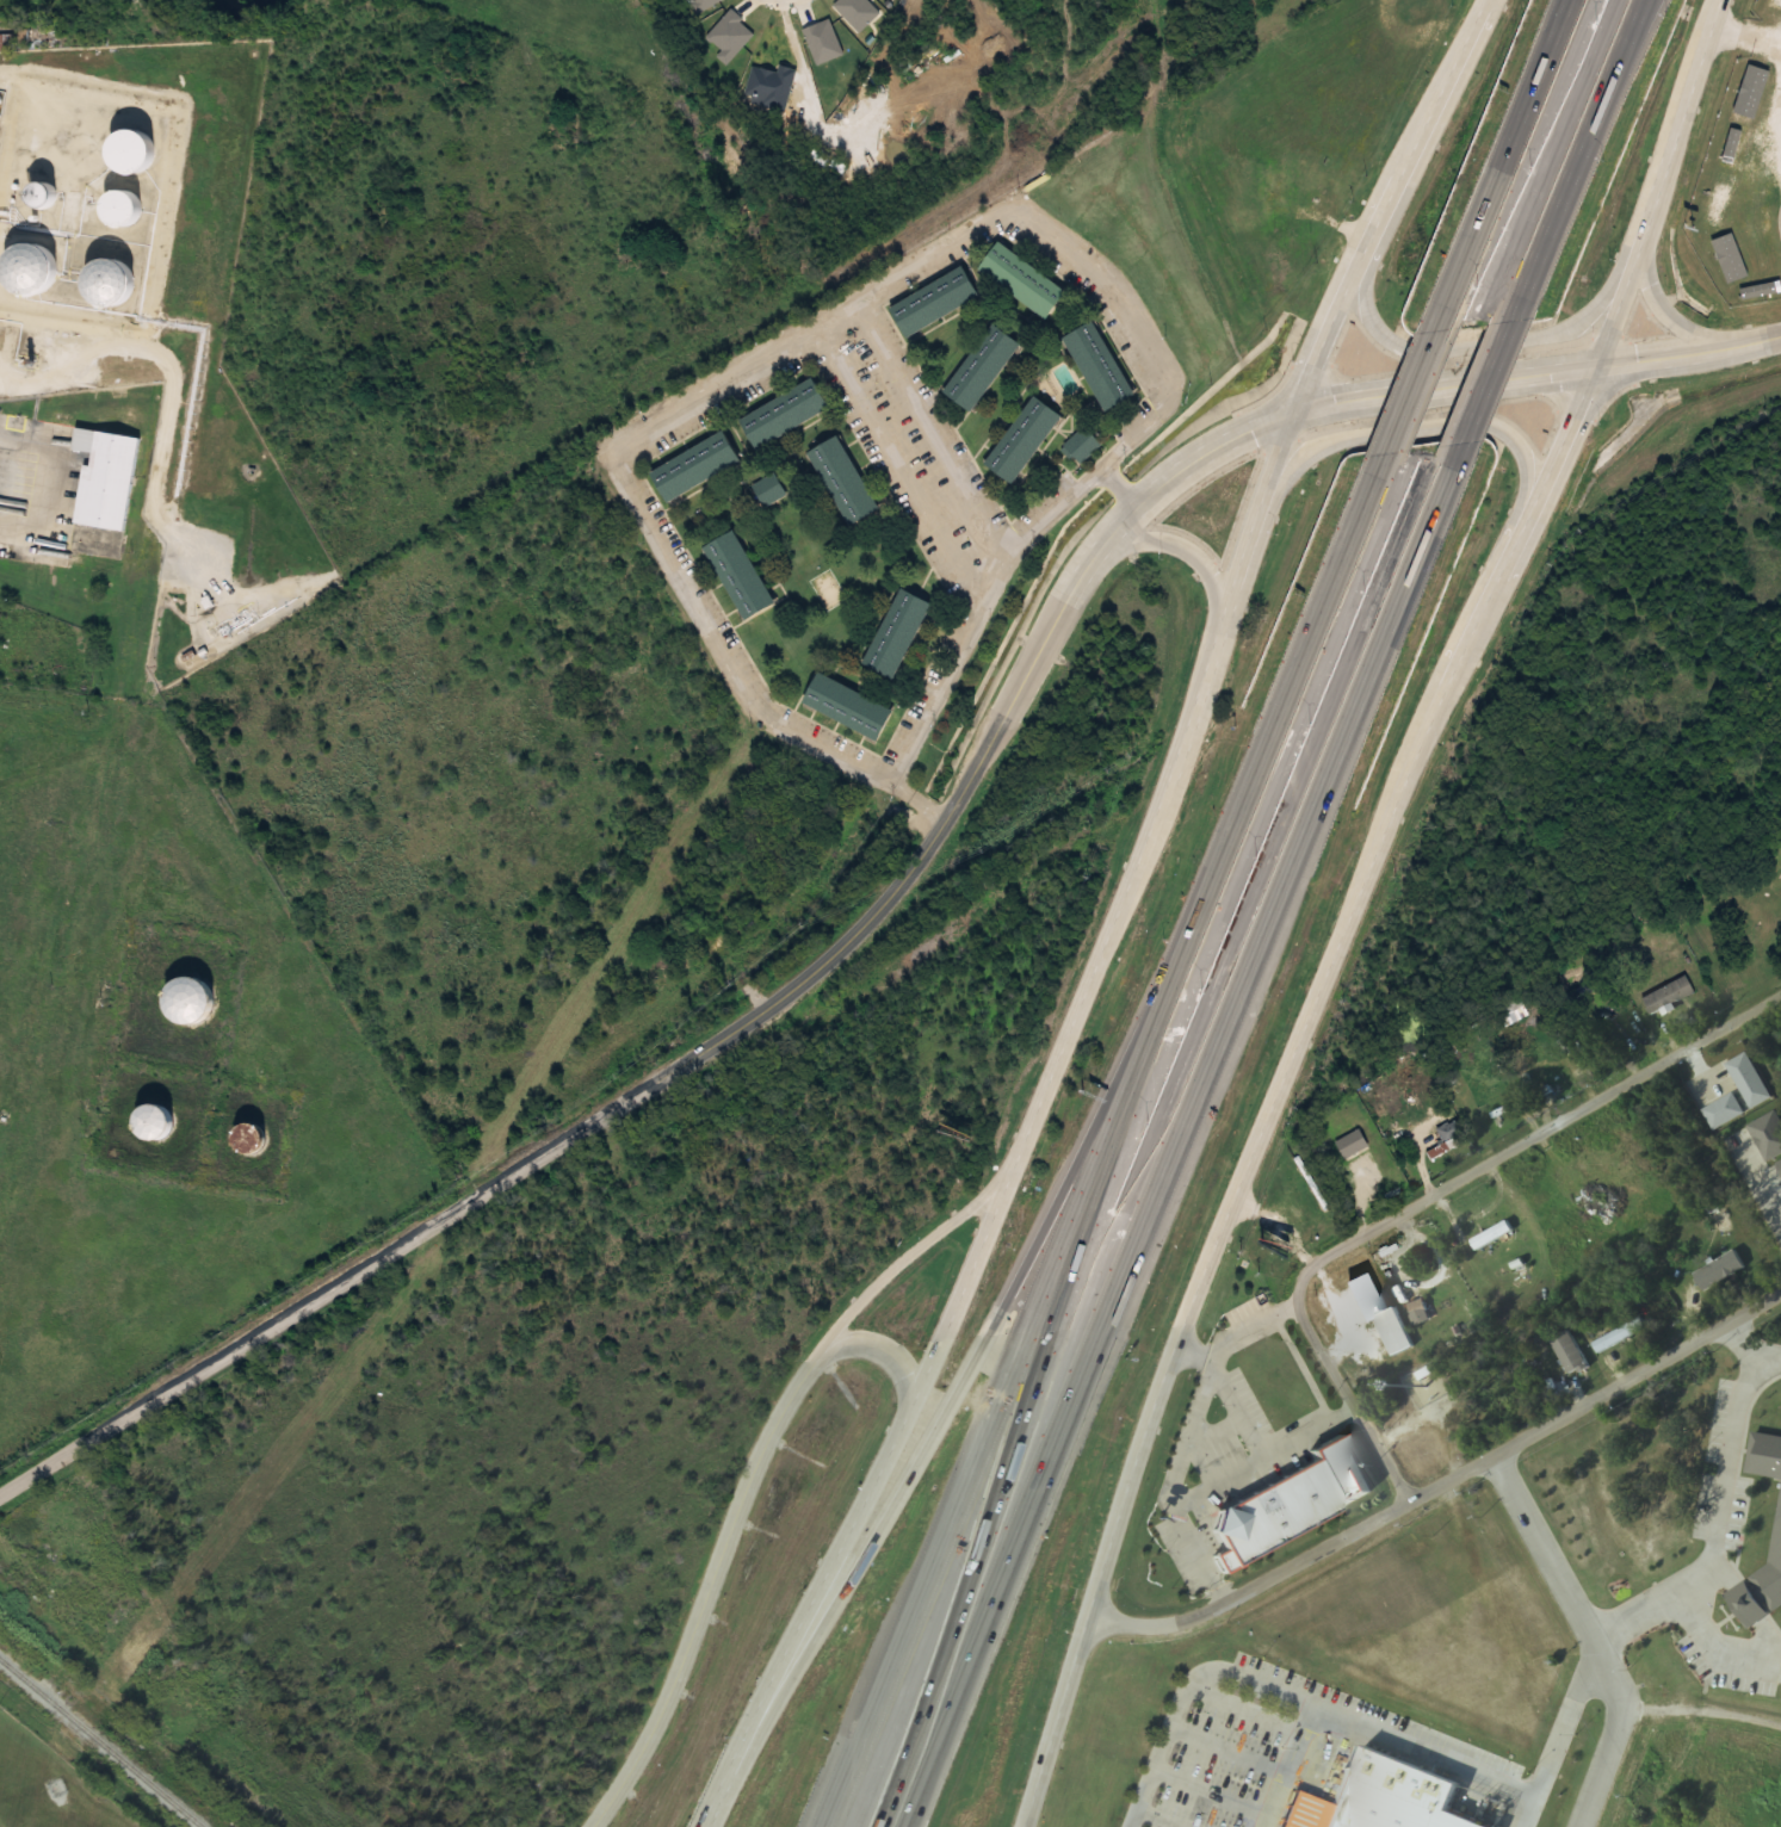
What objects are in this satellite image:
road: (1573, 2)
building: (1773, 5)
building: (42, 37)
road: (1612, 86)
building: (1748, 95)
building: (1730, 151)
building: (128, 154)
road: (1572, 160)
road: (1507, 166)
building: (1274, 194)
building: (39, 196)
building: (119, 208)
building: (1767, 242)
building: (1719, 267)
building: (27, 268)
building: (1021, 280)
building: (107, 285)
building: (933, 302)
road: (1677, 317)
road: (1398, 343)
building: (1097, 366)
building: (981, 369)
road: (1483, 382)
road: (1412, 397)
building: (783, 414)
building: (1022, 440)
building: (1081, 446)
building: (694, 466)
road: (1525, 477)
building: (105, 478)
building: (842, 481)
building: (768, 490)
road: (1202, 564)
building: (738, 575)
building: (896, 634)
road: (1286, 701)
building: (846, 707)
road: (909, 872)
road: (1355, 905)
road: (1113, 921)
building: (1668, 996)
building: (187, 1002)
building: (1513, 1012)
building: (1410, 1097)
building: (151, 1125)
road: (1174, 1134)
building: (1448, 1139)
building: (248, 1140)
road: (1529, 1140)
building: (1352, 1145)
building: (1720, 1272)
road: (857, 1303)
building: (1393, 1333)
building: (1619, 1337)
building: (1570, 1355)
road: (1007, 1383)
road: (958, 1389)
road: (1352, 1400)
building: (1764, 1457)
road: (1442, 1484)
building: (1270, 1516)
building: (1762, 1588)
road: (704, 1594)
road: (1589, 1635)
road: (1373, 1736)
road: (1560, 1738)
railway: (101, 1741)
building: (1393, 1796)

